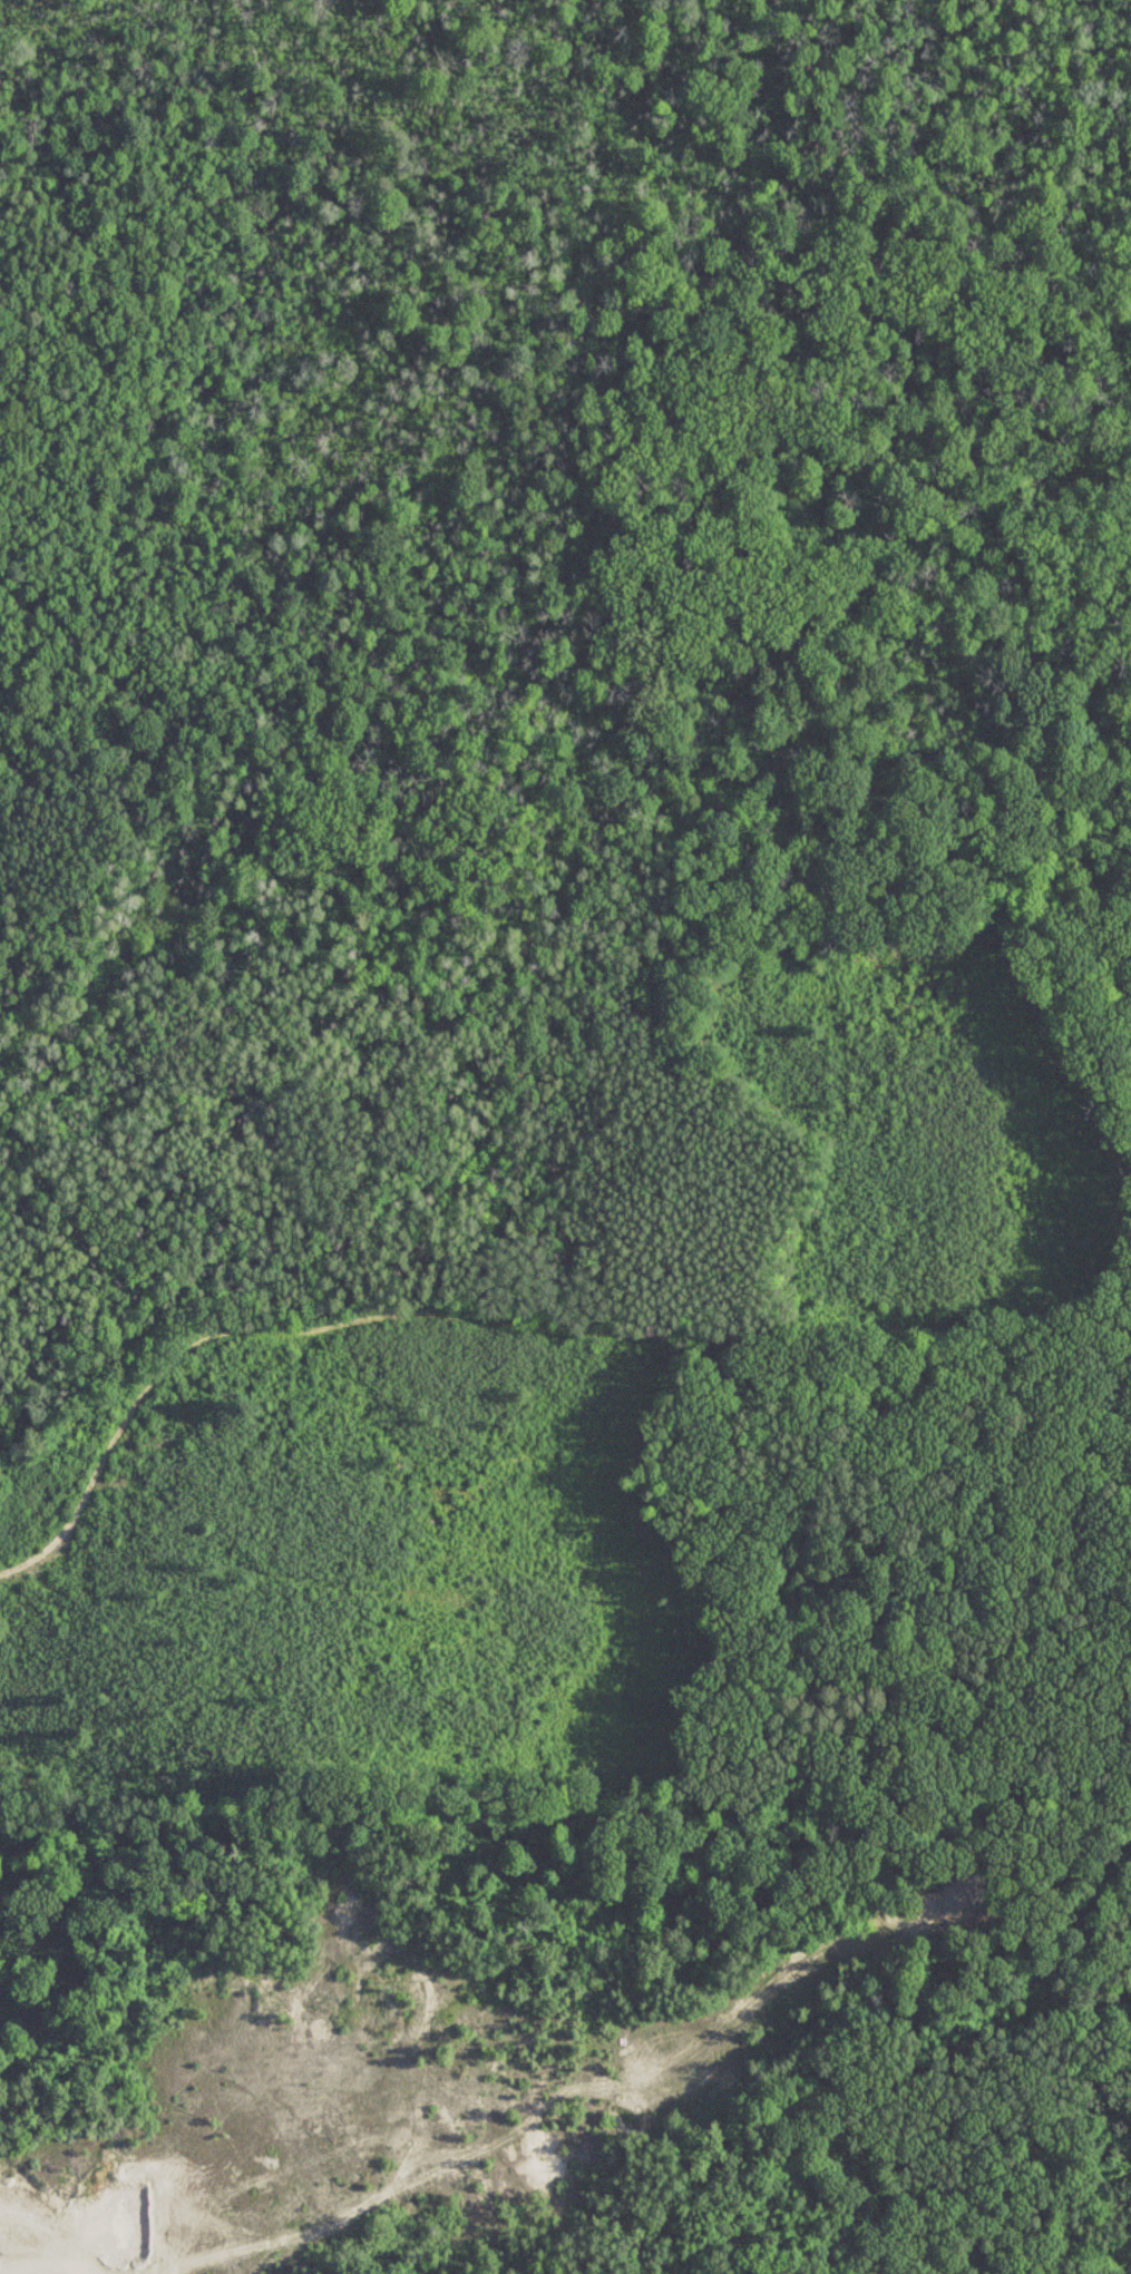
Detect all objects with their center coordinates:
road: (513, 1347)

